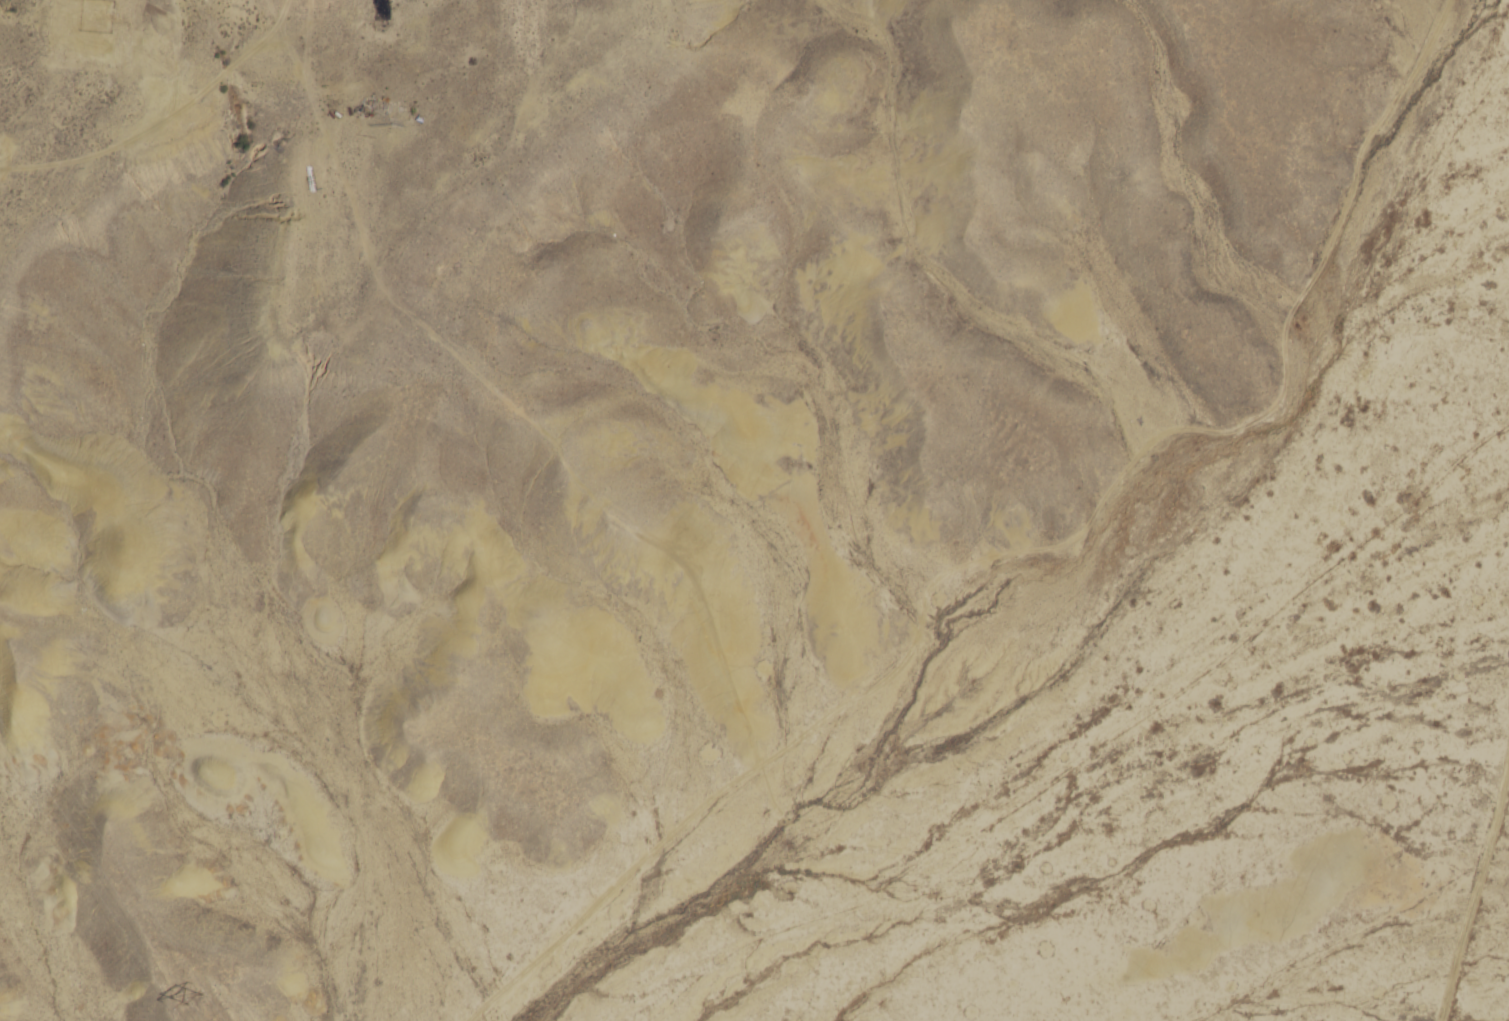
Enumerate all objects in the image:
road: (1479, 881)
power tower: (199, 997)

